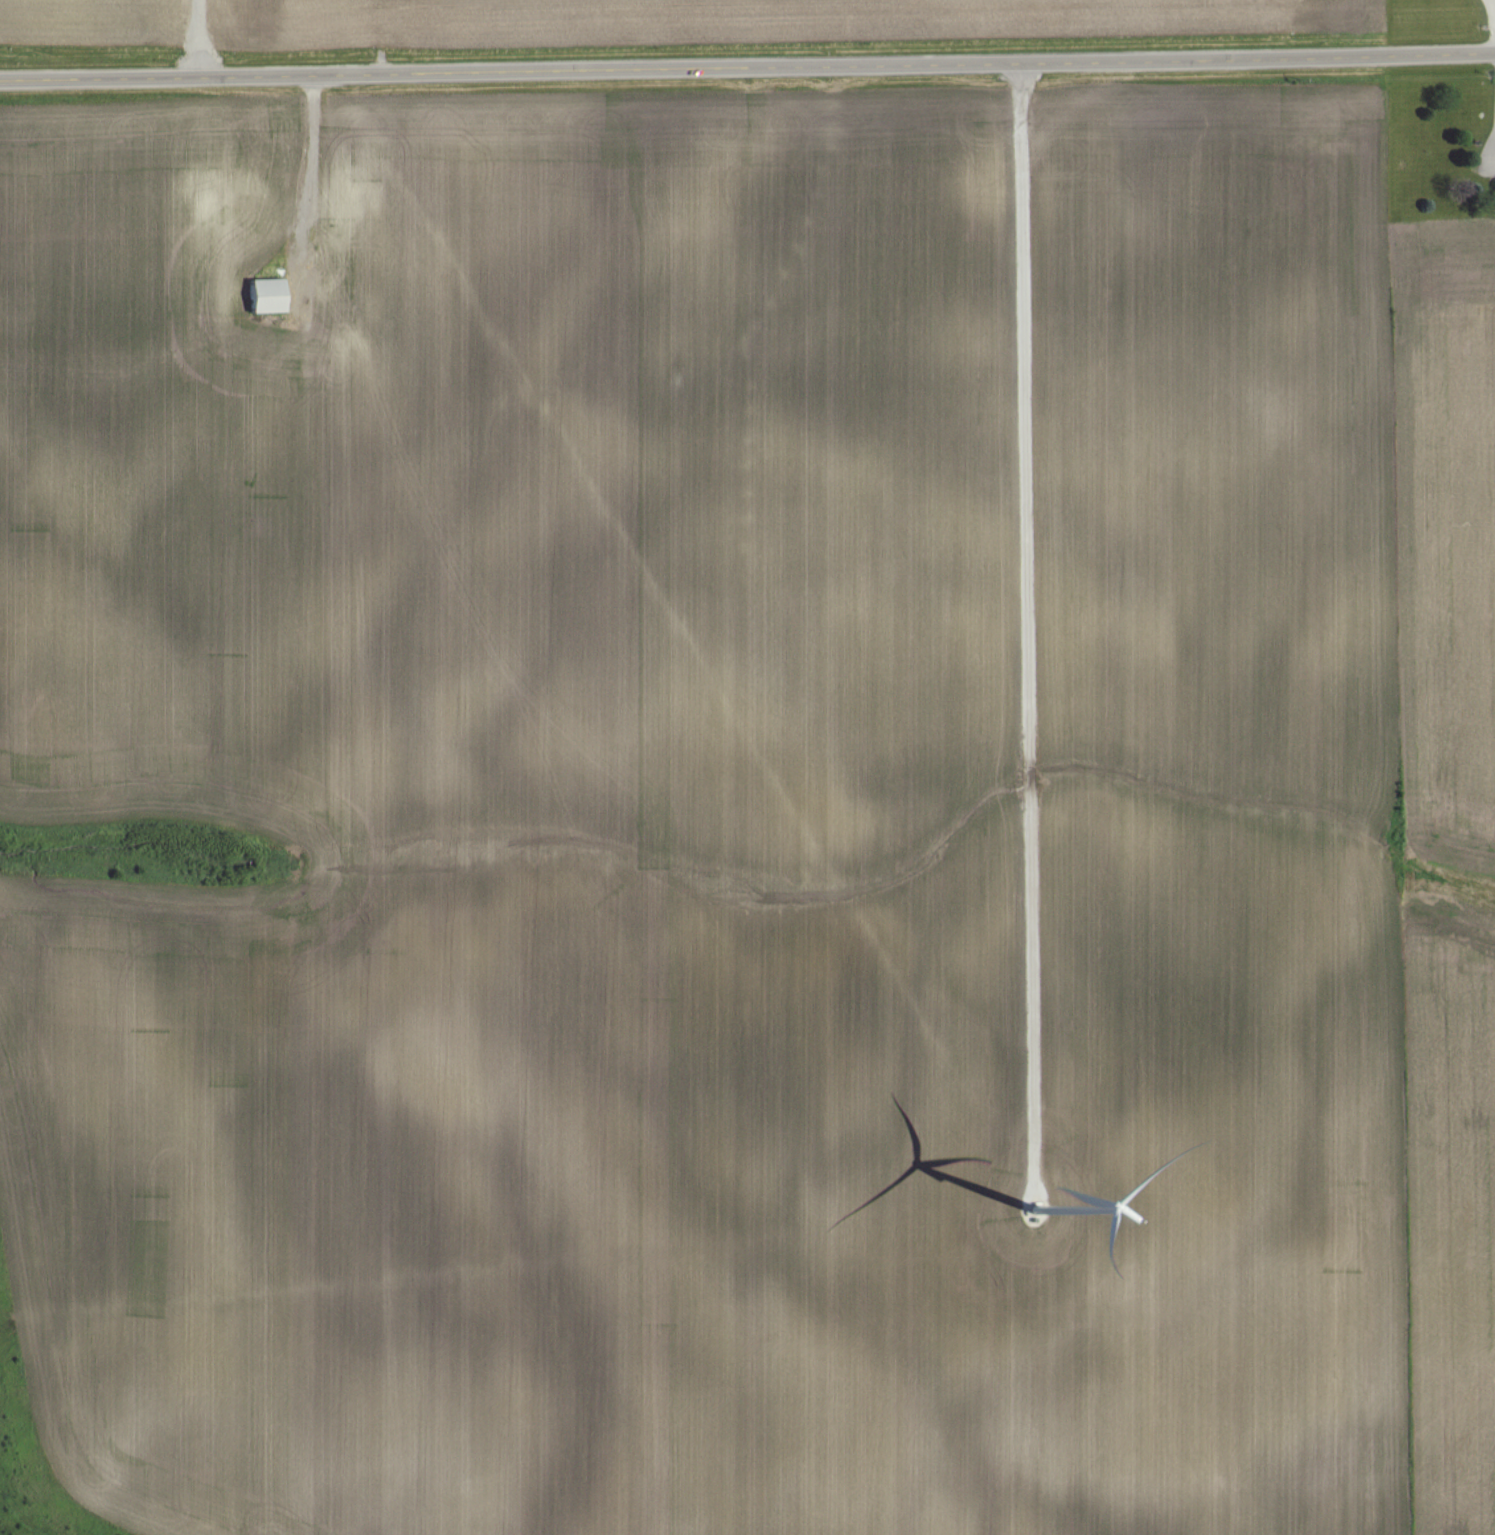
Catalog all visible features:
road: (1494, 0)
road: (199, 37)
road: (747, 66)
road: (1494, 157)
road: (310, 183)
road: (1028, 628)
wind turbine: (1041, 1216)

